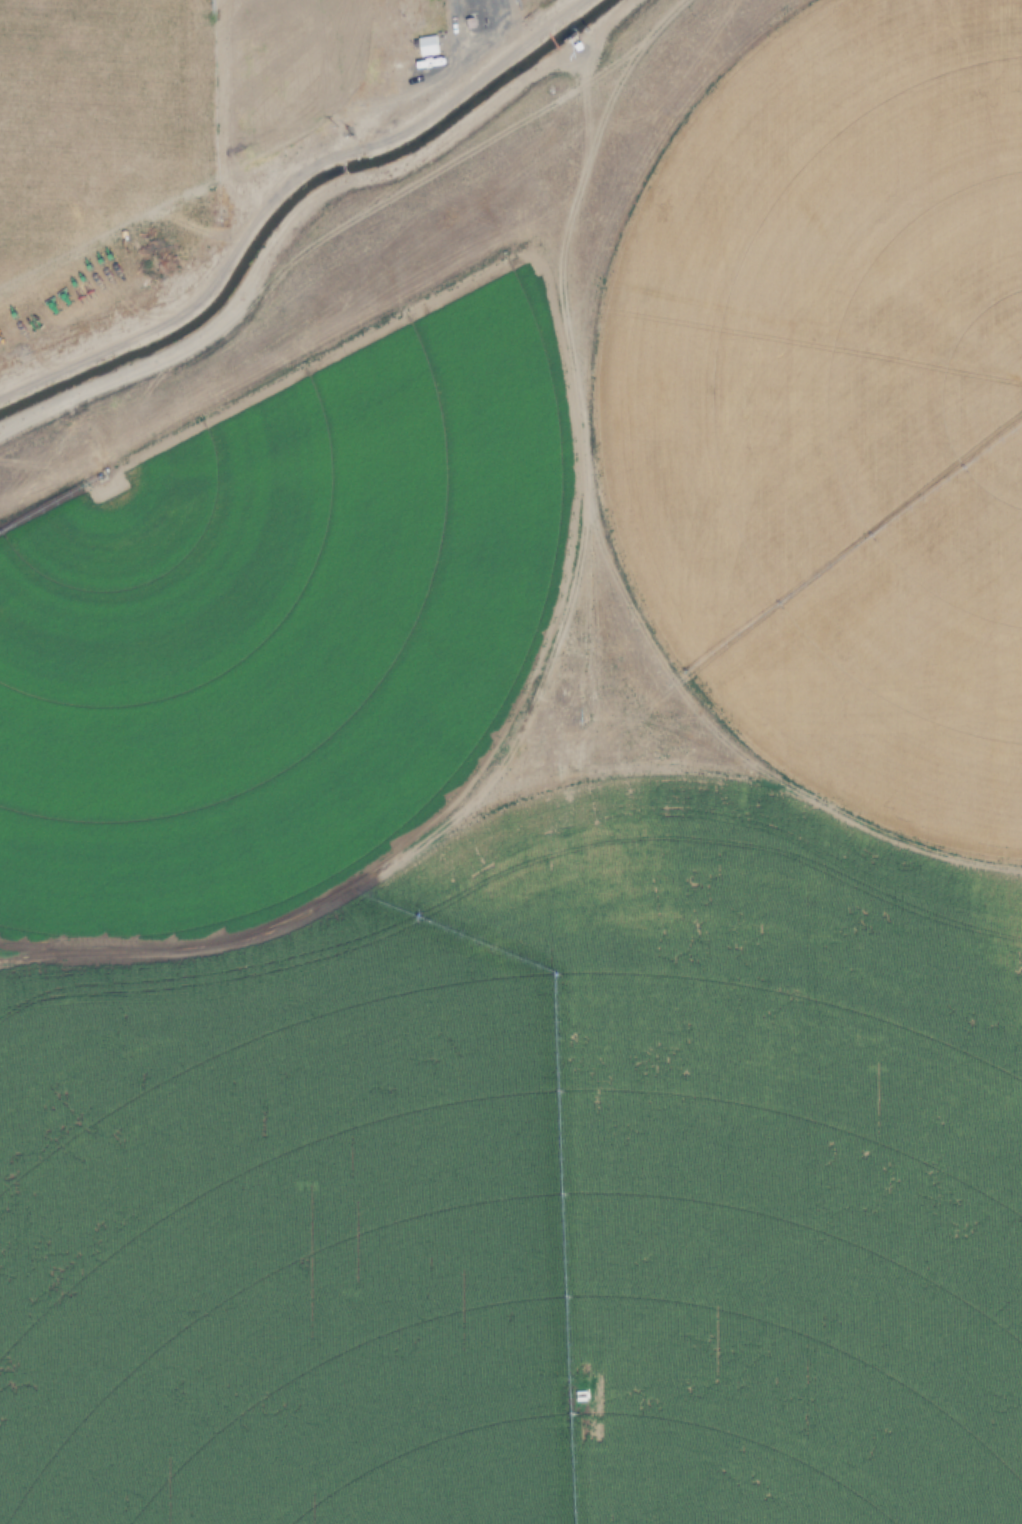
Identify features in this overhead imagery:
building: (412, 14)
building: (428, 46)
building: (581, 1397)

